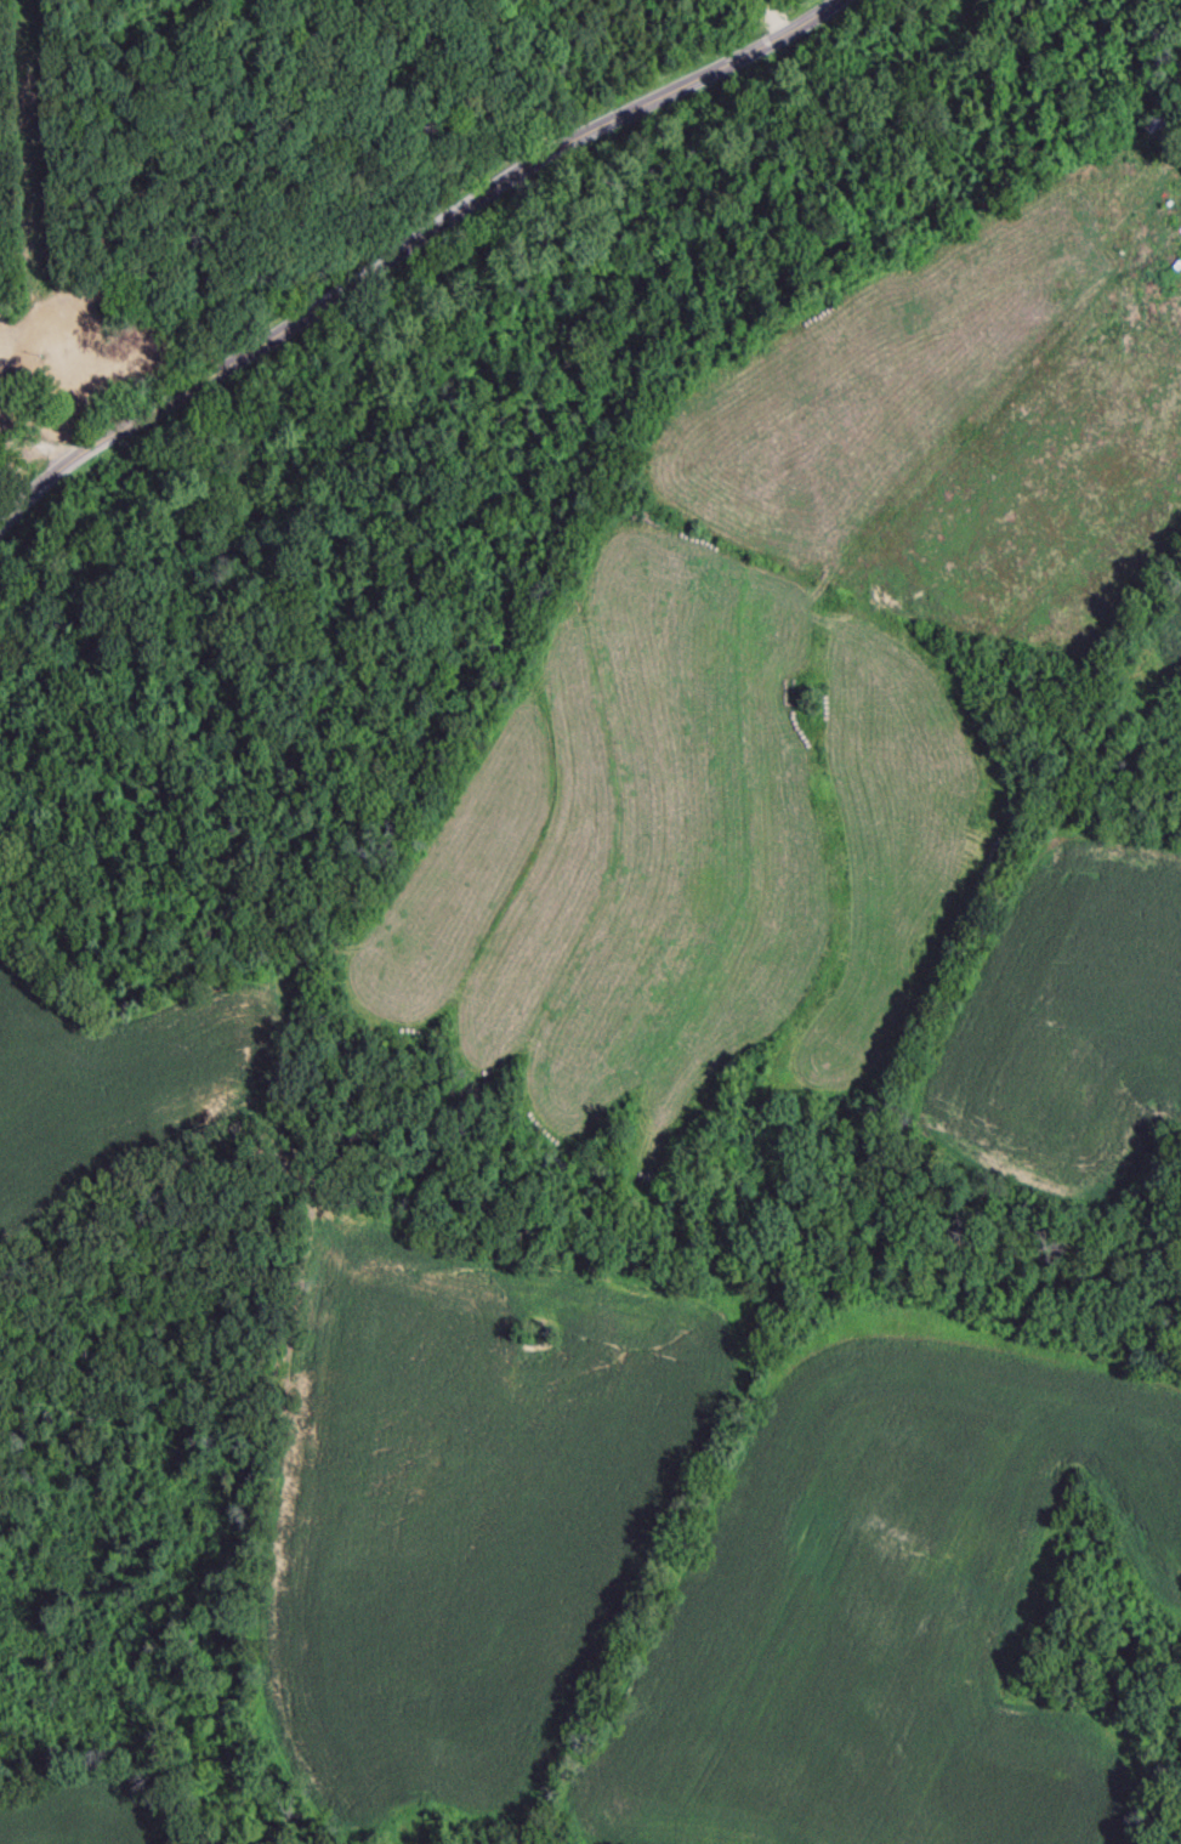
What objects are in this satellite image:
building: (1160, 127)
road: (330, 288)
road: (1051, 475)

